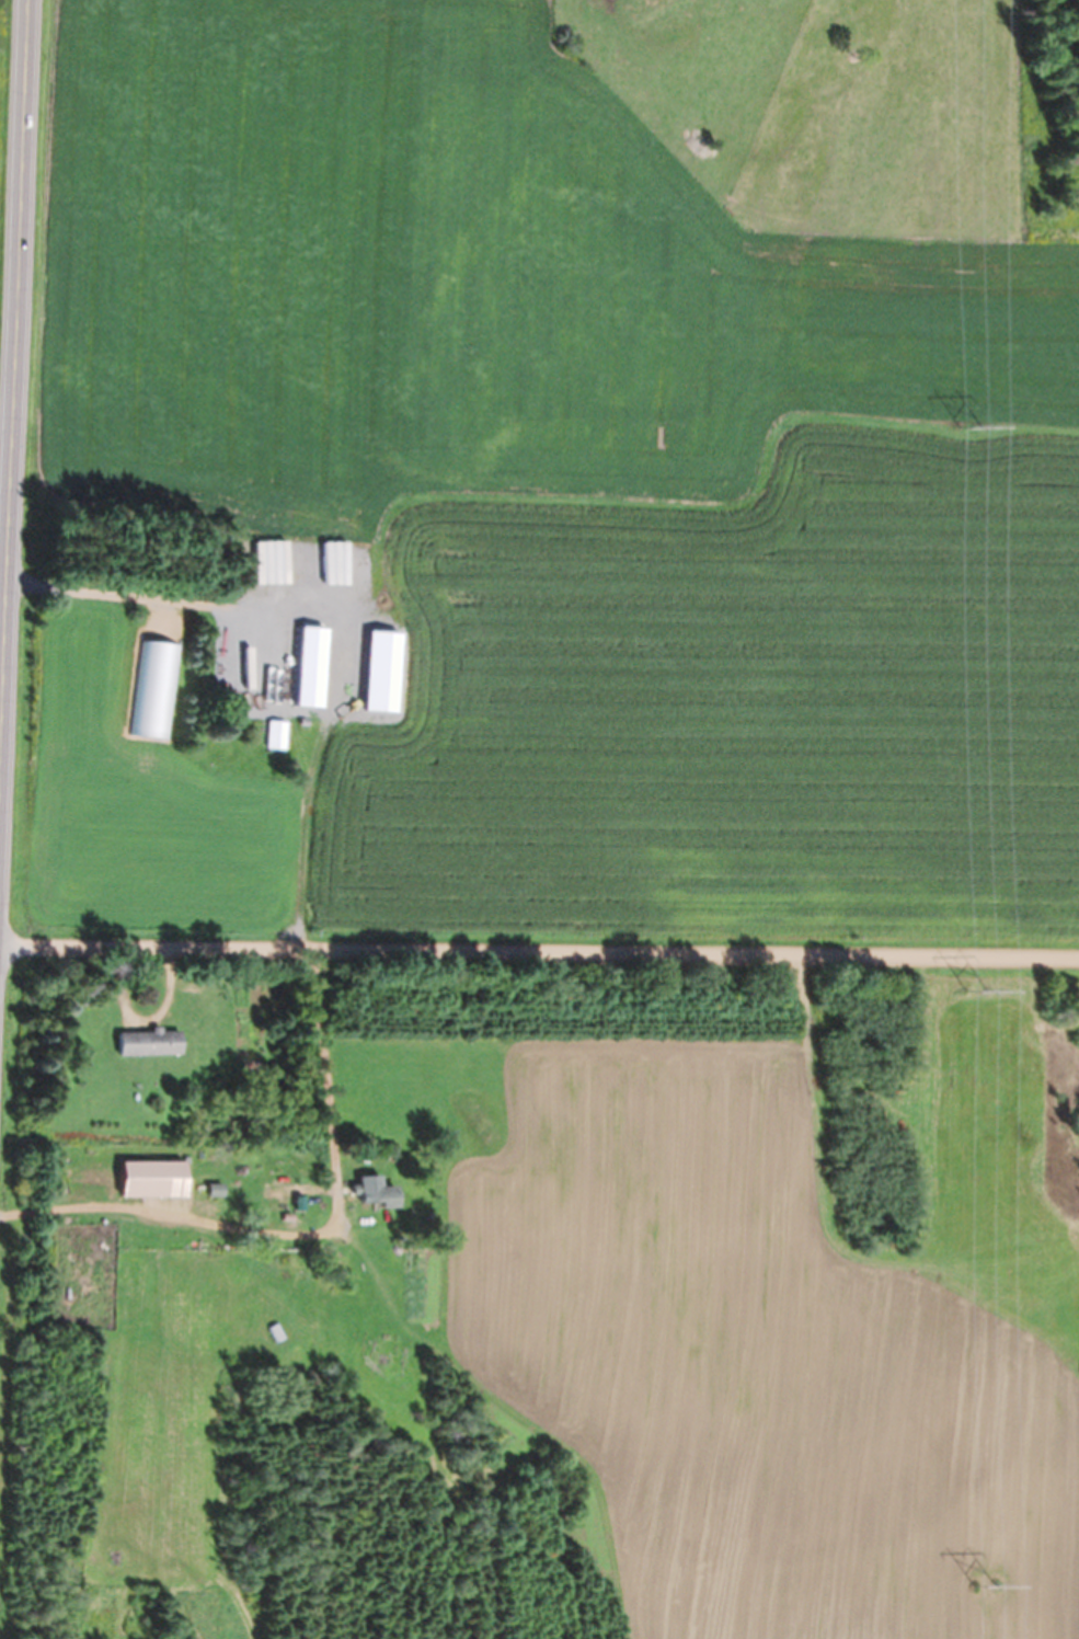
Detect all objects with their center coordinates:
road: (15, 401)
power tower: (969, 424)
building: (308, 534)
building: (311, 642)
building: (380, 652)
building: (259, 686)
road: (539, 948)
power tower: (976, 992)
building: (150, 1042)
building: (156, 1179)
building: (378, 1193)
power tower: (985, 1588)

